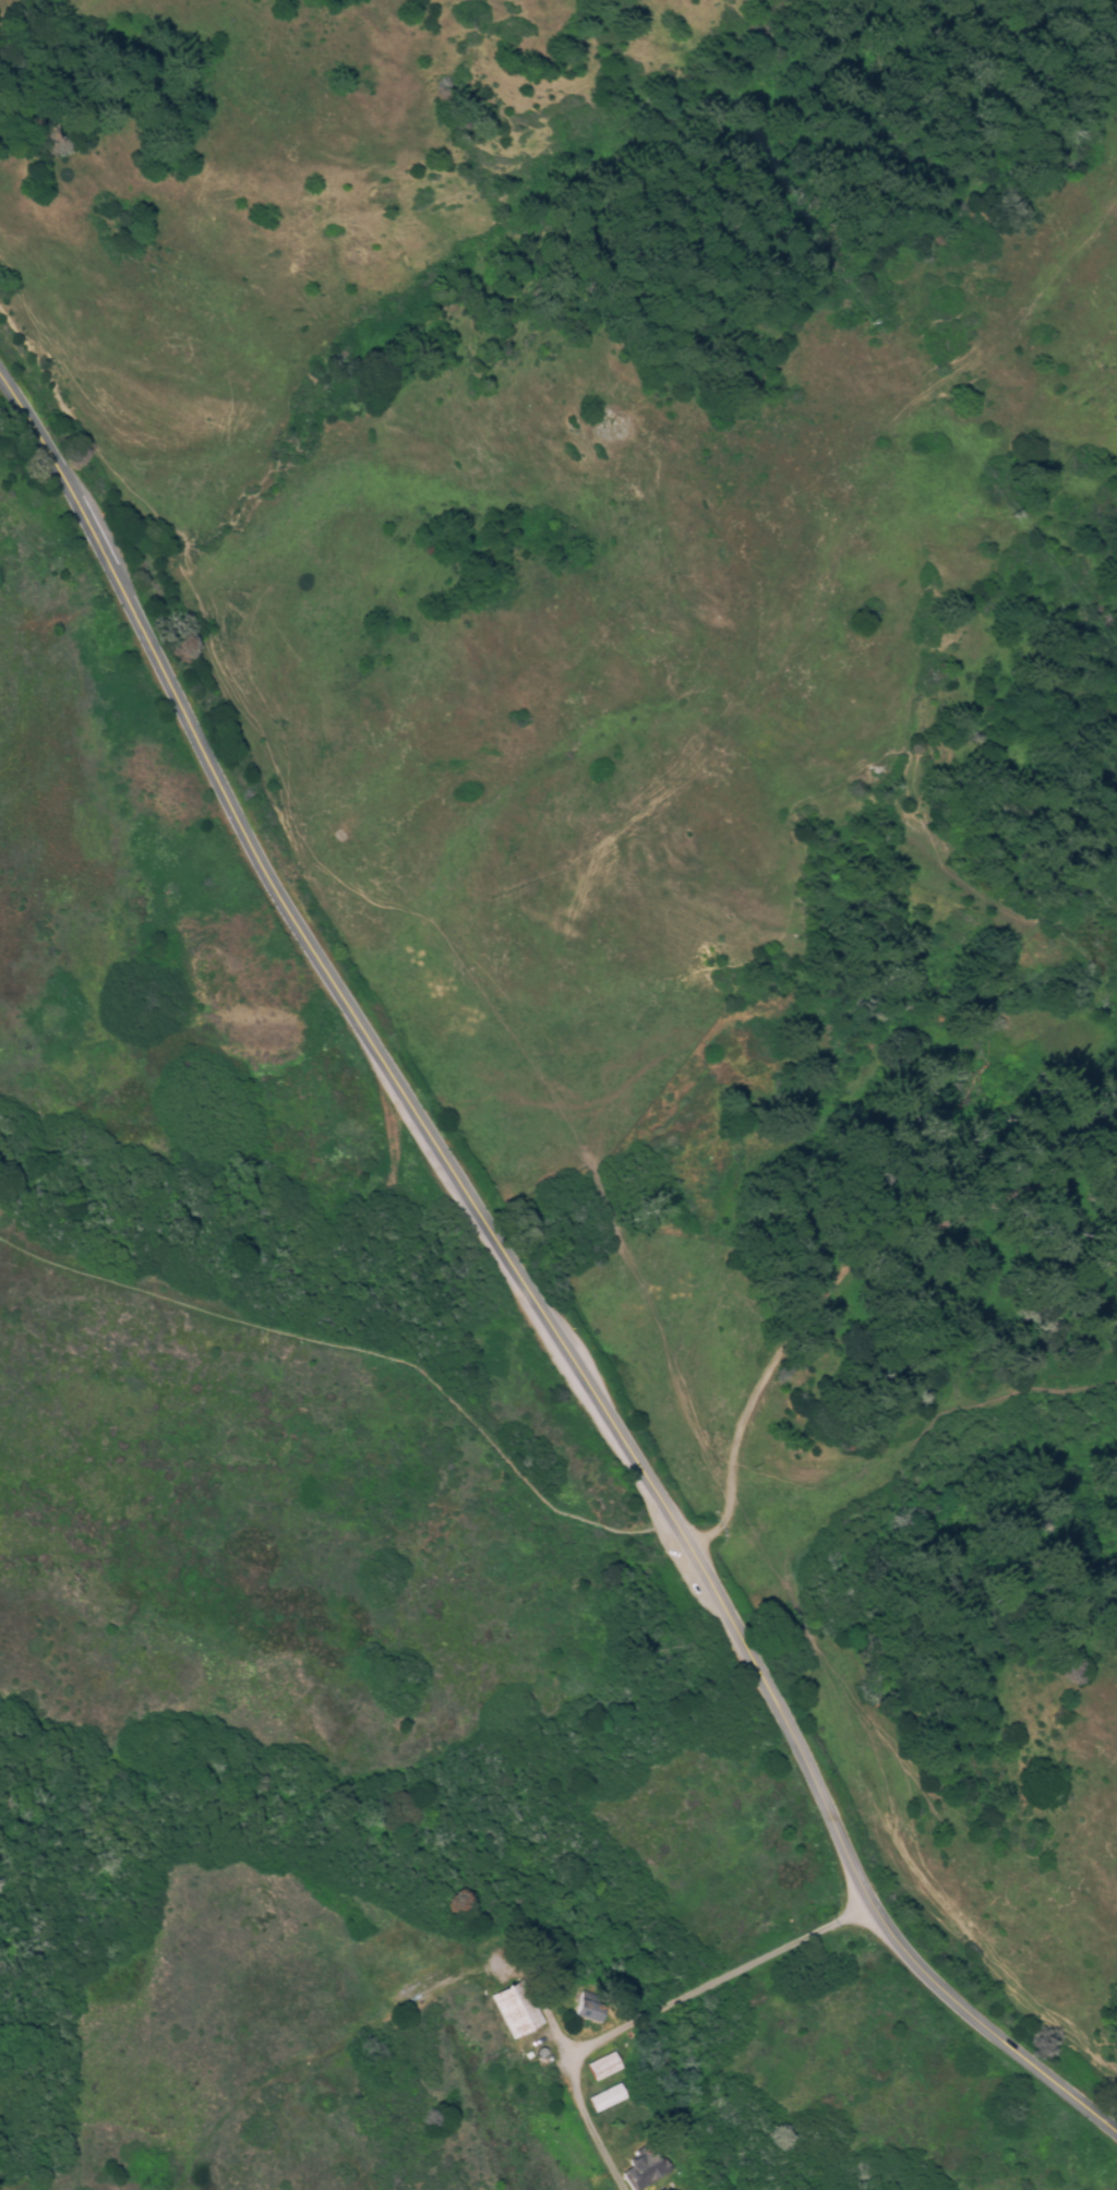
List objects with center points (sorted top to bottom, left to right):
road: (711, 723)
road: (833, 1283)
road: (524, 1287)
road: (365, 1349)
building: (590, 2009)
building: (516, 2012)
road: (654, 2013)
building: (603, 2067)
building: (606, 2098)
building: (647, 2174)

